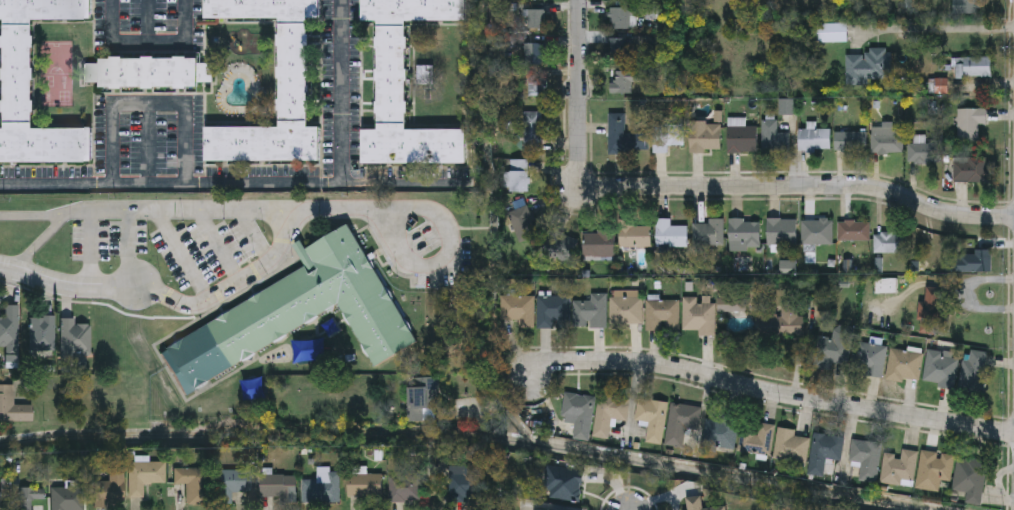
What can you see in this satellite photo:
building: (622, 0)
building: (965, 7)
building: (623, 19)
building: (535, 20)
road: (935, 28)
building: (832, 34)
road: (148, 47)
building: (620, 48)
building: (535, 55)
building: (973, 68)
building: (870, 69)
building: (150, 73)
building: (293, 73)
building: (14, 74)
building: (622, 83)
building: (405, 87)
building: (537, 87)
road: (580, 92)
road: (148, 101)
building: (970, 125)
building: (533, 132)
building: (625, 137)
building: (667, 138)
building: (706, 138)
building: (741, 138)
building: (774, 139)
building: (814, 140)
building: (888, 141)
building: (852, 142)
building: (922, 154)
building: (970, 170)
building: (519, 177)
road: (263, 184)
road: (405, 184)
road: (803, 184)
road: (196, 206)
building: (523, 225)
building: (817, 233)
building: (854, 233)
building: (782, 234)
building: (745, 235)
building: (671, 236)
building: (709, 236)
building: (636, 238)
building: (890, 244)
building: (599, 245)
road: (93, 246)
road: (122, 246)
road: (443, 255)
building: (983, 262)
road: (67, 283)
road: (232, 283)
building: (733, 307)
building: (626, 309)
building: (518, 311)
building: (297, 312)
building: (553, 313)
building: (591, 313)
building: (662, 316)
building: (698, 318)
building: (765, 323)
building: (793, 323)
building: (9, 326)
building: (43, 334)
building: (75, 338)
building: (836, 347)
building: (871, 361)
building: (905, 367)
building: (941, 372)
building: (974, 374)
road: (769, 391)
building: (423, 396)
building: (12, 407)
road: (484, 407)
building: (579, 415)
building: (609, 416)
building: (653, 419)
building: (681, 424)
building: (720, 436)
building: (756, 440)
building: (790, 447)
building: (825, 453)
building: (865, 456)
building: (899, 469)
building: (934, 472)
building: (145, 477)
building: (971, 481)
building: (192, 484)
building: (235, 485)
building: (365, 486)
building: (465, 486)
building: (562, 486)
building: (279, 487)
building: (323, 488)
building: (405, 490)
building: (110, 492)
building: (30, 497)
building: (68, 499)
building: (693, 506)

